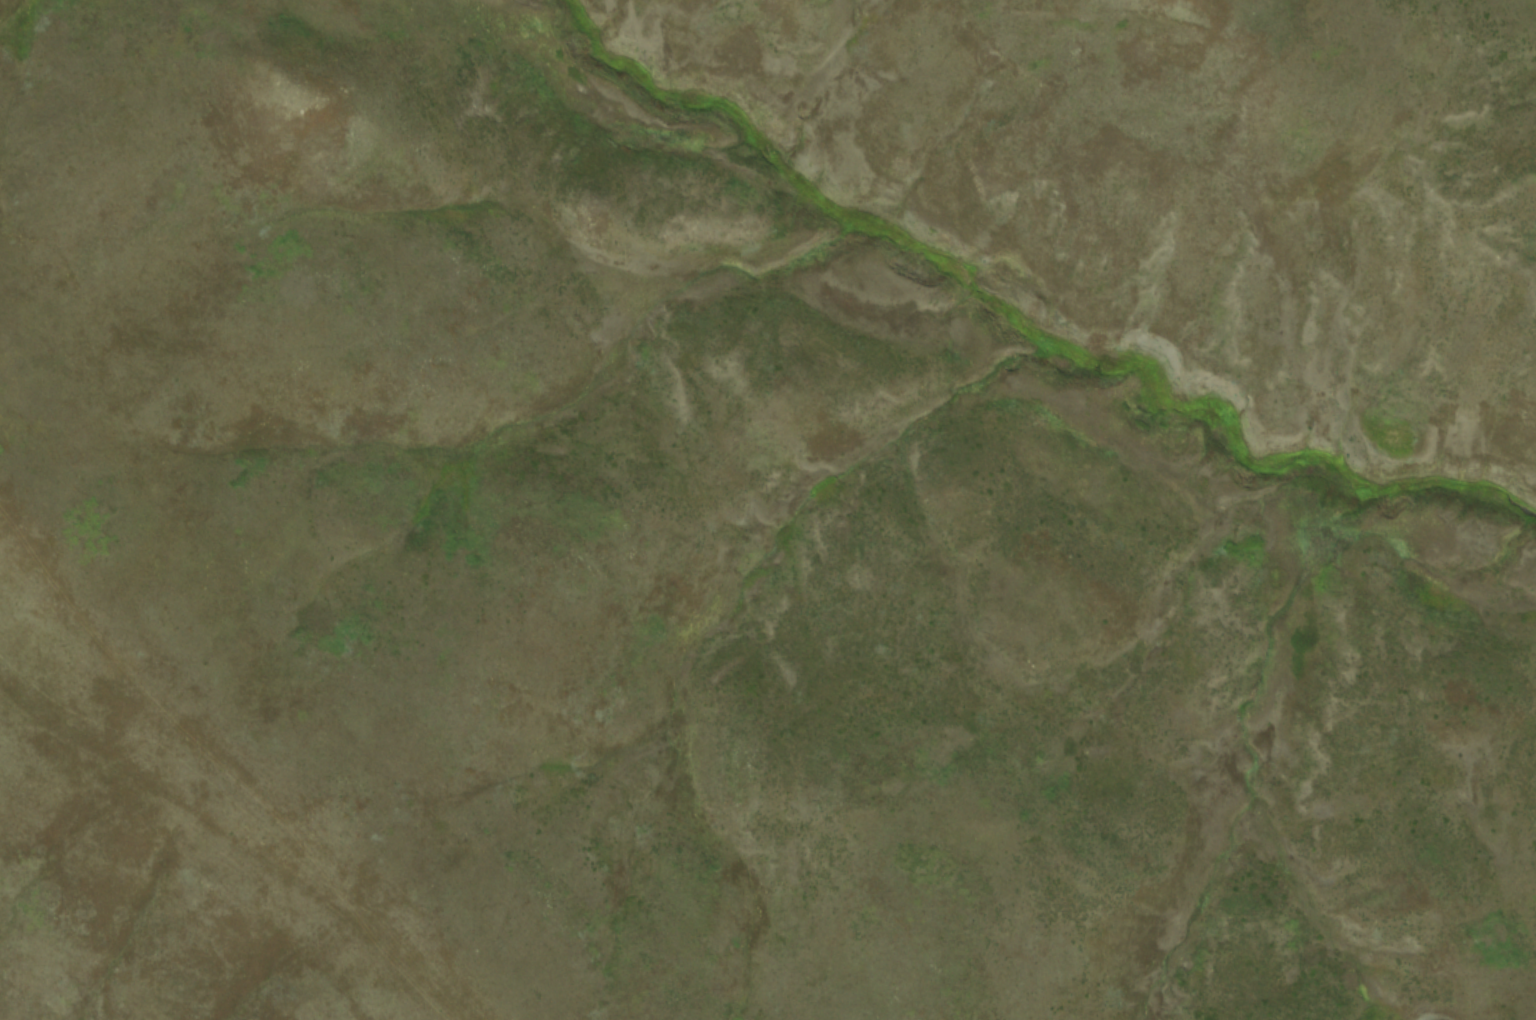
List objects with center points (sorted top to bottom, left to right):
road: (222, 836)

